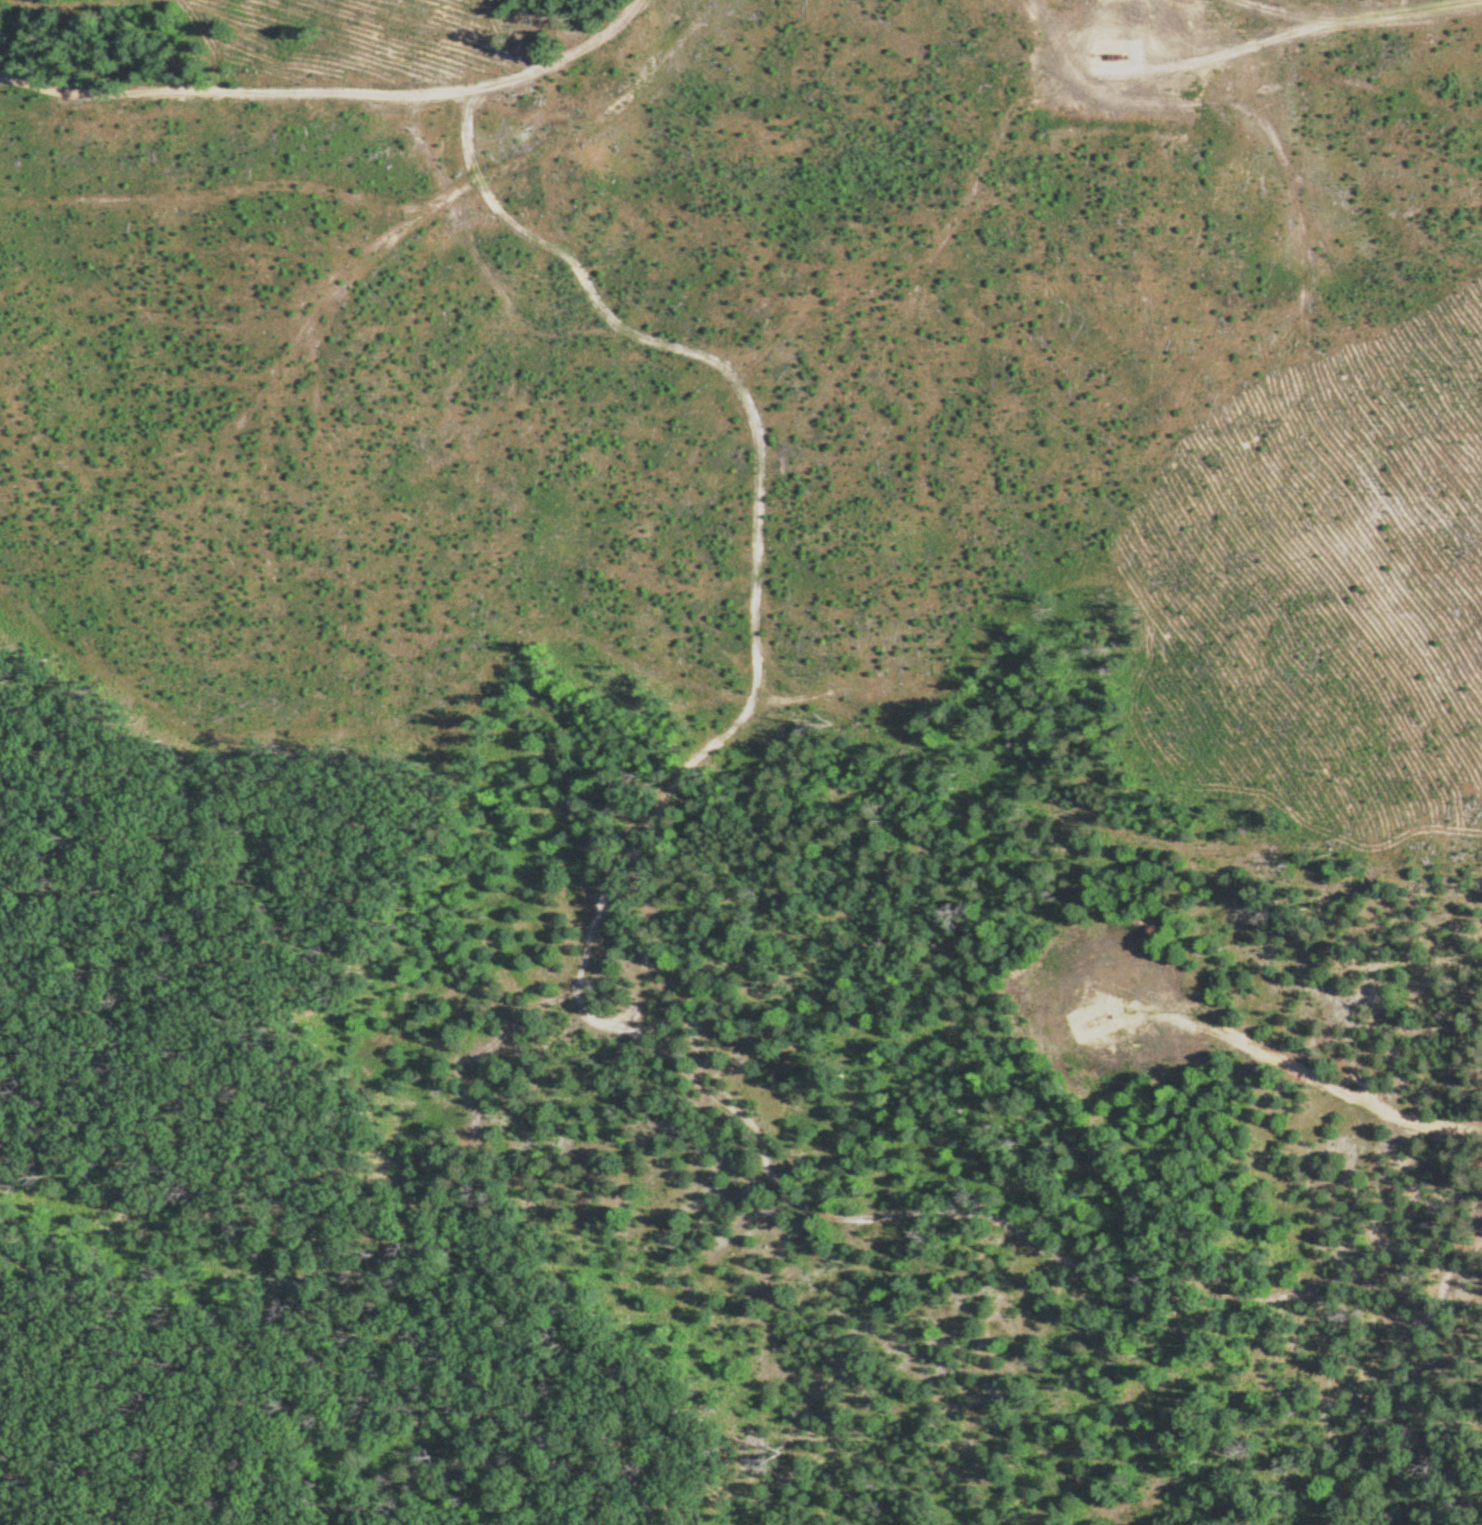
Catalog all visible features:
road: (1311, 33)
petroleum well: (1106, 61)
road: (336, 93)
petroleum well: (1090, 1015)
road: (1311, 1083)

